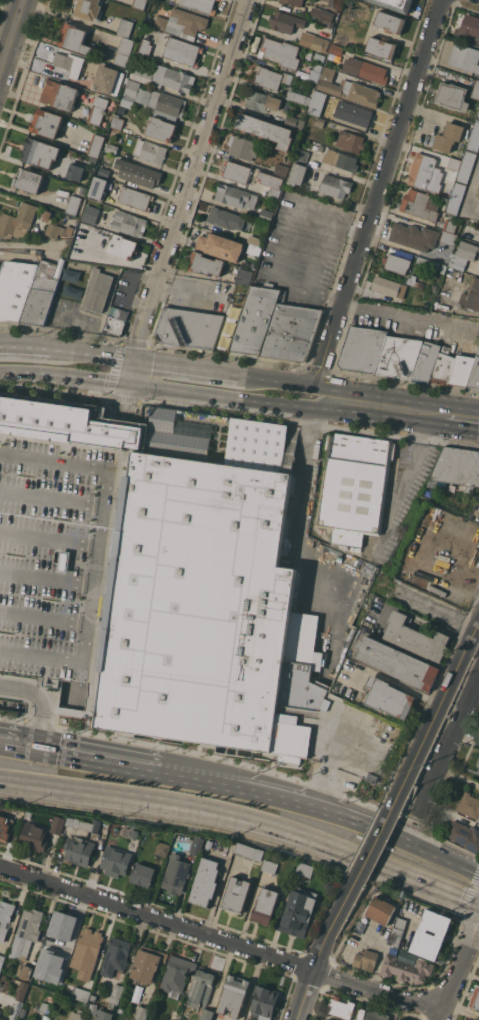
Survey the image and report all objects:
building: (294, 2)
building: (109, 3)
building: (332, 3)
building: (138, 4)
building: (396, 4)
building: (201, 5)
building: (88, 9)
building: (326, 17)
building: (285, 21)
building: (150, 22)
building: (390, 22)
building: (182, 23)
building: (125, 27)
building: (470, 28)
building: (328, 29)
road: (12, 37)
building: (75, 39)
building: (313, 41)
building: (145, 47)
building: (381, 47)
building: (336, 48)
building: (123, 51)
building: (182, 51)
building: (280, 52)
building: (319, 56)
building: (465, 57)
building: (68, 63)
building: (366, 69)
building: (315, 72)
building: (165, 77)
building: (270, 77)
building: (108, 79)
building: (299, 82)
building: (348, 89)
building: (475, 90)
building: (58, 94)
building: (300, 96)
building: (452, 97)
building: (154, 101)
building: (262, 101)
building: (316, 102)
building: (98, 109)
building: (353, 113)
building: (478, 113)
building: (117, 121)
building: (318, 121)
building: (294, 122)
building: (46, 123)
building: (161, 128)
building: (265, 129)
building: (448, 136)
building: (473, 136)
building: (350, 141)
building: (317, 144)
building: (96, 145)
building: (243, 147)
building: (112, 148)
building: (150, 151)
building: (40, 152)
building: (301, 156)
building: (340, 159)
building: (454, 162)
building: (465, 166)
building: (281, 169)
building: (65, 170)
building: (421, 170)
building: (104, 171)
building: (235, 171)
building: (74, 172)
building: (137, 173)
building: (296, 174)
road: (189, 179)
building: (29, 180)
building: (268, 184)
building: (335, 185)
building: (97, 187)
road: (375, 192)
building: (478, 193)
road: (29, 195)
road: (469, 195)
building: (235, 196)
building: (455, 197)
building: (135, 198)
building: (73, 204)
building: (420, 204)
building: (90, 212)
building: (266, 215)
building: (225, 218)
building: (18, 220)
road: (292, 222)
building: (128, 223)
building: (449, 226)
building: (58, 230)
building: (414, 237)
building: (448, 237)
road: (29, 243)
building: (254, 245)
building: (123, 246)
building: (220, 246)
building: (80, 249)
road: (321, 251)
building: (463, 254)
building: (398, 261)
building: (428, 262)
building: (207, 264)
building: (442, 268)
building: (69, 275)
building: (244, 276)
building: (412, 281)
road: (289, 285)
road: (131, 286)
building: (389, 287)
building: (15, 288)
building: (97, 291)
building: (42, 292)
building: (472, 295)
road: (324, 296)
building: (56, 301)
building: (420, 301)
building: (122, 315)
road: (406, 318)
building: (254, 320)
building: (114, 325)
road: (75, 326)
building: (188, 328)
building: (290, 331)
road: (29, 345)
building: (361, 349)
road: (96, 353)
building: (398, 356)
traffic signals: (134, 360)
building: (425, 361)
road: (183, 367)
building: (442, 367)
building: (460, 370)
road: (27, 372)
road: (132, 372)
building: (474, 372)
road: (92, 378)
road: (275, 380)
traffic signals: (130, 384)
road: (183, 392)
road: (352, 395)
road: (398, 398)
road: (127, 402)
road: (279, 403)
road: (424, 410)
road: (372, 413)
road: (432, 421)
road: (460, 424)
road: (414, 464)
building: (457, 466)
building: (354, 486)
road: (53, 498)
road: (299, 507)
road: (51, 538)
building: (345, 547)
road: (100, 551)
building: (154, 573)
road: (48, 577)
building: (438, 590)
road: (45, 618)
building: (416, 637)
building: (398, 662)
road: (40, 696)
building: (389, 697)
road: (441, 705)
road: (449, 744)
road: (81, 752)
building: (478, 763)
road: (211, 776)
building: (469, 805)
road: (246, 817)
road: (422, 820)
building: (59, 824)
building: (86, 824)
building: (117, 826)
road: (371, 826)
building: (5, 827)
building: (464, 835)
building: (34, 836)
building: (209, 844)
building: (198, 845)
building: (163, 848)
road: (371, 848)
building: (79, 850)
building: (250, 851)
building: (116, 861)
building: (270, 866)
building: (305, 868)
building: (143, 874)
building: (176, 874)
building: (206, 881)
building: (236, 894)
building: (265, 905)
building: (381, 910)
building: (298, 911)
building: (5, 918)
building: (362, 925)
building: (398, 931)
building: (26, 933)
building: (431, 934)
building: (55, 938)
road: (221, 938)
building: (87, 952)
building: (116, 956)
building: (366, 959)
building: (1, 961)
building: (147, 964)
road: (315, 965)
building: (406, 967)
building: (24, 970)
road: (458, 971)
building: (177, 973)
building: (56, 978)
building: (201, 988)
building: (22, 991)
building: (116, 993)
building: (81, 994)
building: (234, 995)
building: (92, 997)
building: (475, 998)
building: (264, 1002)
building: (341, 1007)
building: (46, 1008)
building: (94, 1011)
building: (142, 1012)
building: (207, 1013)
building: (360, 1014)
building: (76, 1015)
building: (105, 1015)
building: (376, 1015)
building: (2, 1019)
building: (323, 1019)
building: (328, 1019)
building: (398, 1019)
building: (400, 1019)
building: (463, 1019)
building: (470, 1019)

